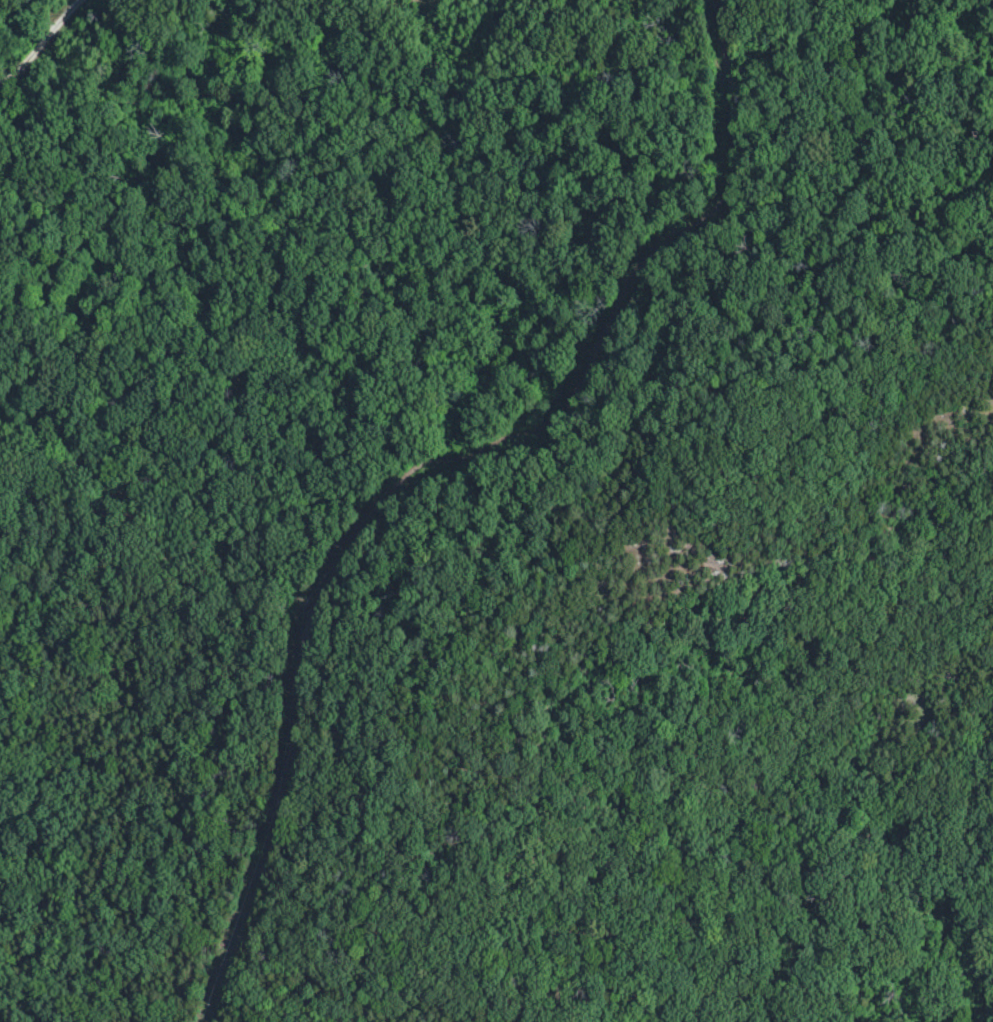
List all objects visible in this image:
road: (42, 44)

